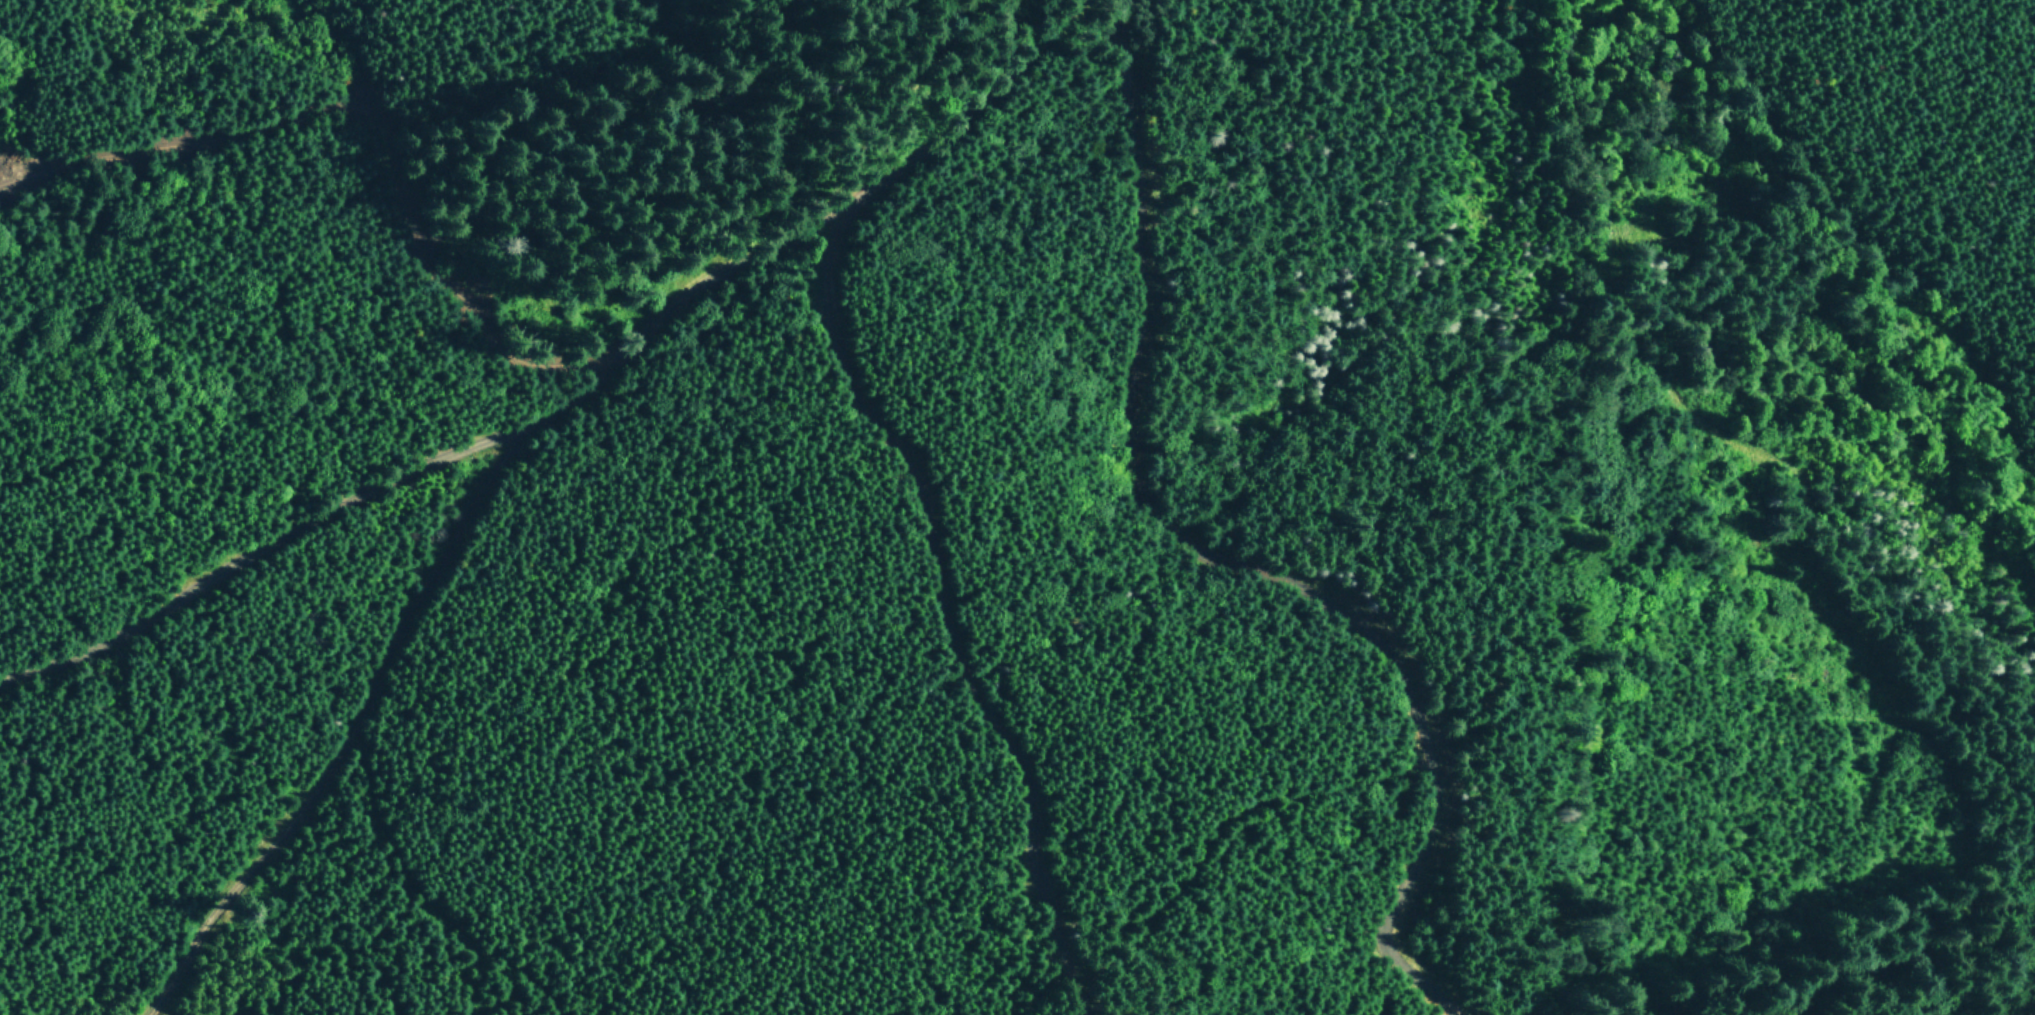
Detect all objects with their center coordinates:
road: (526, 436)
road: (263, 548)

